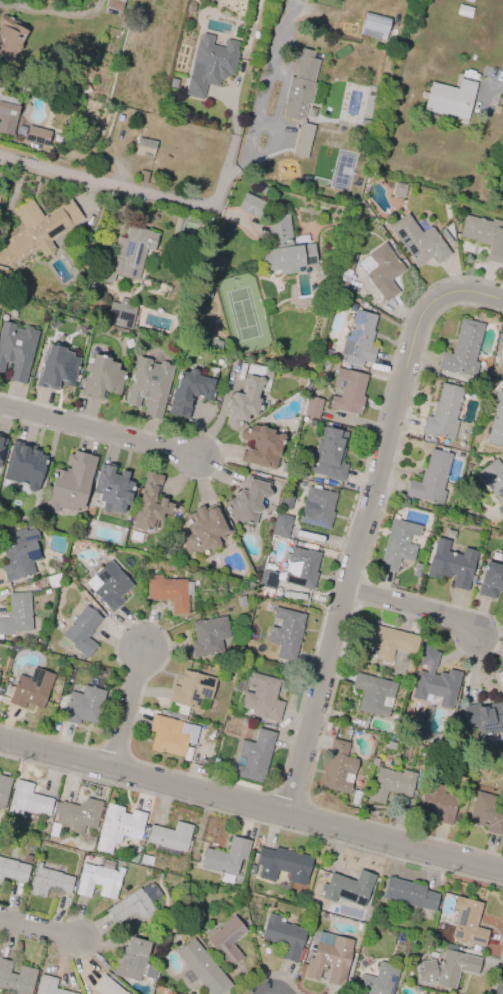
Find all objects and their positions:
building: (300, 0)
building: (114, 4)
building: (463, 11)
road: (53, 12)
building: (374, 26)
building: (9, 38)
building: (210, 64)
road: (492, 82)
building: (300, 86)
building: (449, 98)
building: (8, 115)
building: (37, 135)
building: (302, 140)
building: (144, 147)
building: (141, 177)
building: (398, 189)
road: (142, 194)
building: (251, 205)
building: (40, 227)
building: (448, 232)
building: (485, 235)
building: (418, 241)
building: (283, 248)
building: (129, 254)
building: (346, 270)
building: (383, 271)
building: (2, 274)
building: (118, 314)
building: (358, 339)
building: (127, 343)
building: (463, 349)
building: (16, 350)
building: (325, 353)
building: (501, 360)
building: (56, 368)
building: (101, 378)
building: (148, 386)
building: (347, 391)
building: (188, 392)
building: (248, 395)
building: (312, 407)
building: (443, 413)
building: (496, 421)
road: (99, 429)
building: (2, 446)
building: (260, 446)
building: (329, 454)
building: (23, 465)
building: (430, 479)
building: (493, 479)
building: (69, 484)
building: (111, 488)
building: (247, 500)
building: (150, 503)
building: (316, 507)
road: (362, 517)
building: (281, 525)
building: (203, 529)
building: (397, 544)
building: (20, 555)
building: (452, 564)
building: (300, 567)
building: (490, 580)
building: (266, 583)
building: (108, 585)
building: (169, 592)
building: (240, 601)
road: (411, 604)
building: (16, 614)
building: (81, 631)
building: (285, 632)
building: (208, 635)
building: (385, 643)
building: (500, 675)
building: (434, 681)
building: (28, 689)
building: (190, 692)
building: (373, 694)
building: (53, 698)
building: (262, 698)
building: (82, 705)
road: (125, 706)
building: (482, 717)
building: (170, 735)
building: (389, 745)
building: (254, 756)
building: (374, 762)
building: (215, 764)
building: (337, 768)
building: (390, 785)
building: (3, 790)
building: (354, 797)
building: (27, 799)
building: (436, 802)
road: (251, 803)
building: (485, 814)
building: (76, 816)
building: (118, 826)
building: (169, 838)
building: (26, 858)
building: (143, 859)
building: (225, 859)
building: (282, 865)
building: (13, 870)
building: (98, 880)
building: (48, 881)
building: (347, 887)
building: (409, 893)
building: (132, 905)
building: (467, 922)
road: (35, 926)
building: (283, 936)
building: (226, 940)
building: (329, 958)
building: (133, 961)
building: (202, 968)
building: (447, 968)
building: (15, 979)
building: (377, 980)
building: (48, 986)
building: (107, 986)

